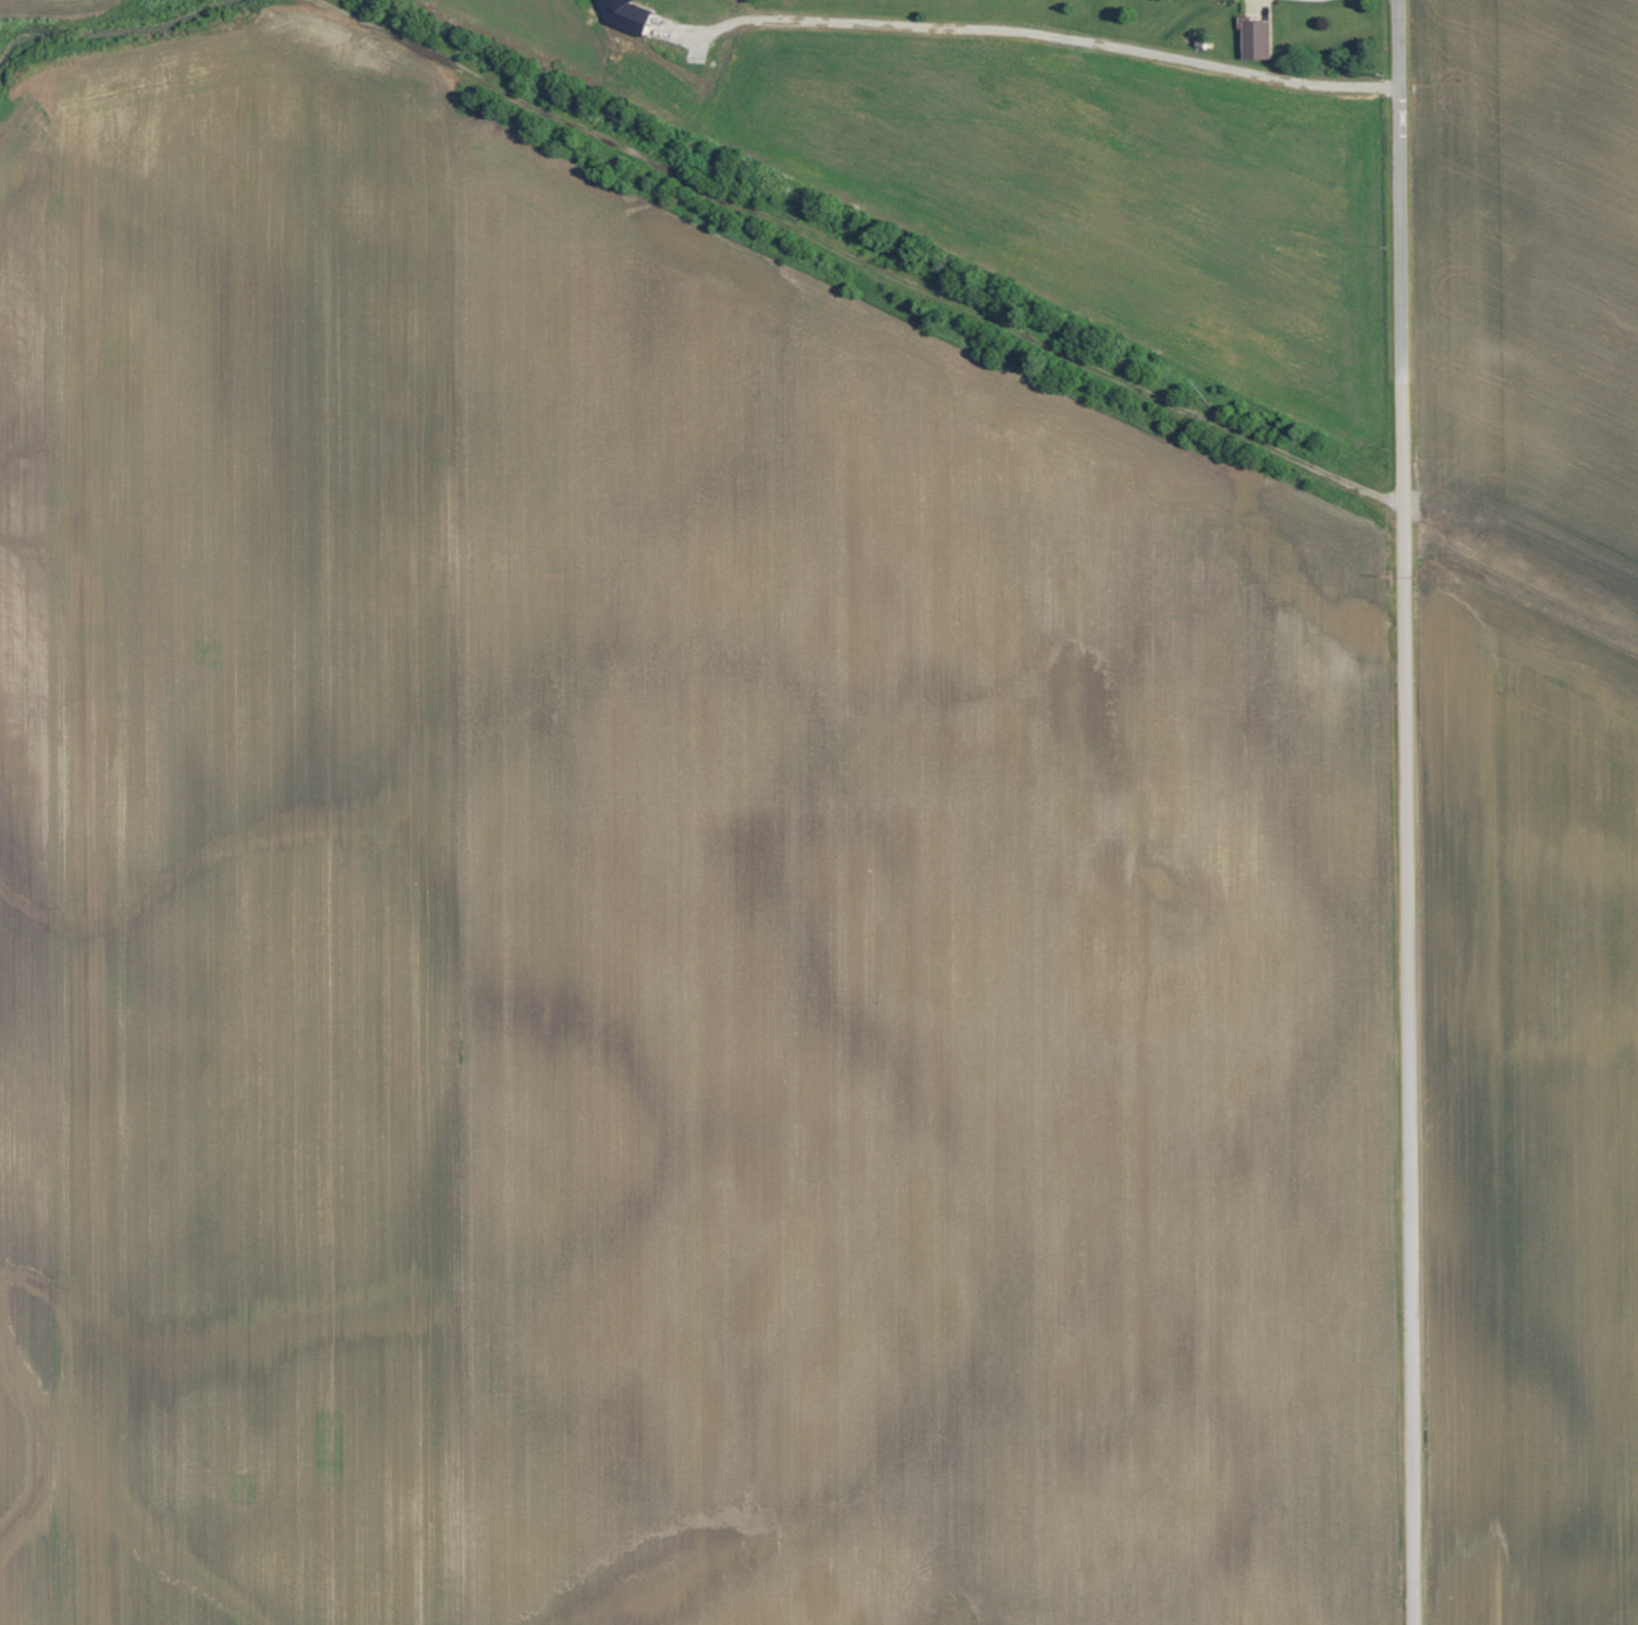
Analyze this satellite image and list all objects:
road: (1405, 812)

